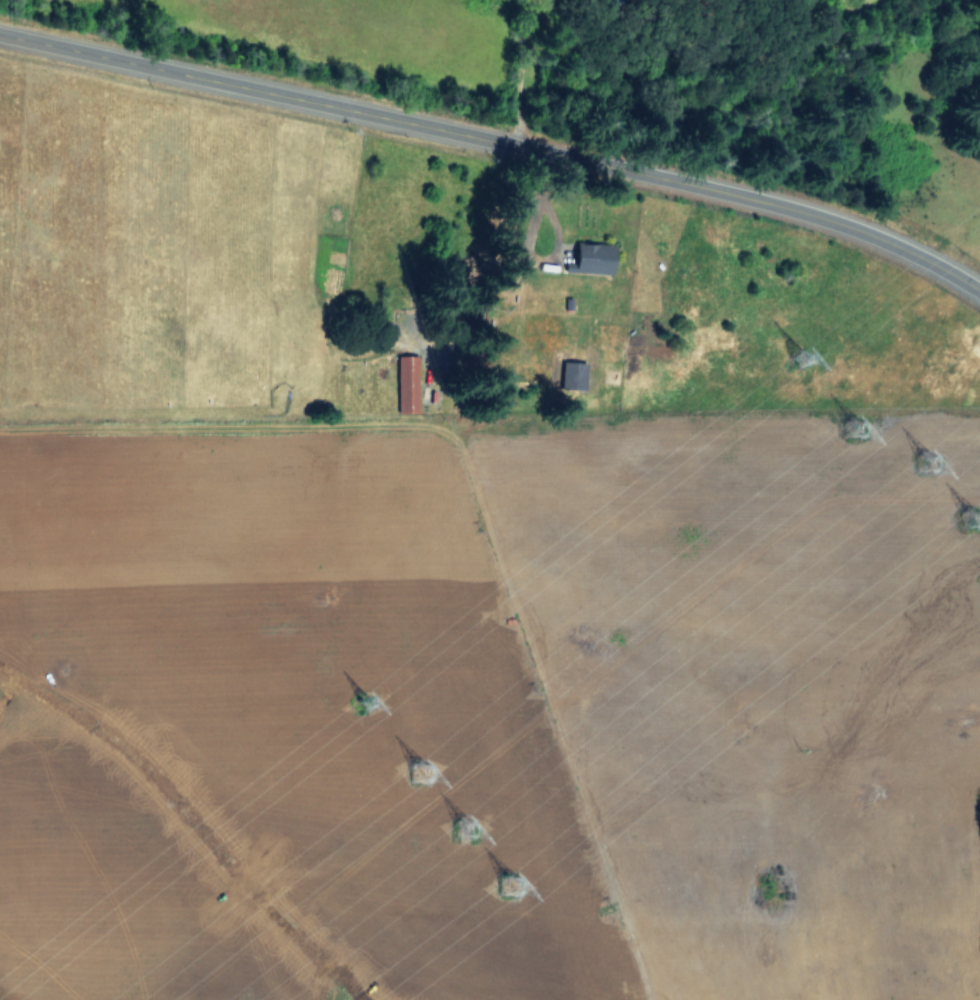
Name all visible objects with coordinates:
road: (497, 146)
building: (598, 258)
power tower: (804, 353)
building: (407, 383)
power tower: (860, 422)
power tower: (930, 466)
power tower: (974, 516)
crop: (461, 595)
power tower: (373, 707)
power tower: (424, 764)
power tower: (470, 822)
power tower: (511, 880)

